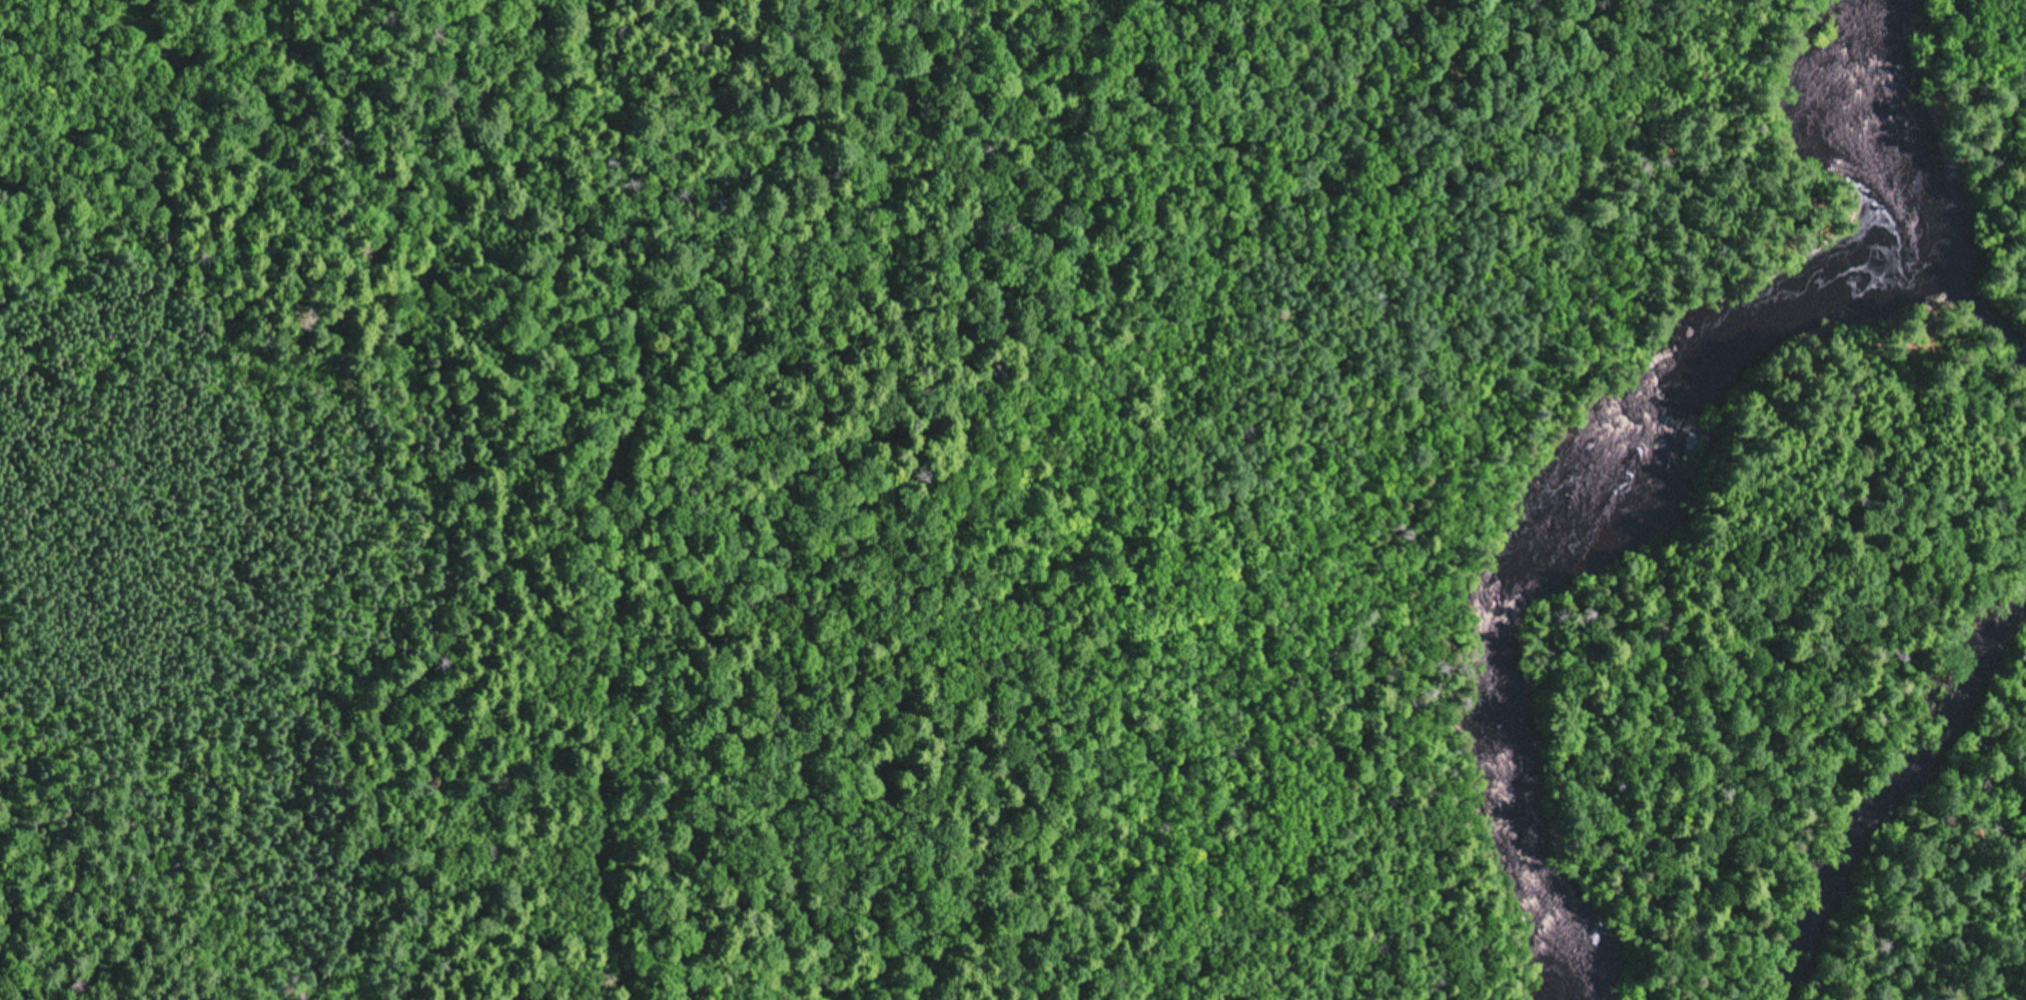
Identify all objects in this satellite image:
river: (1631, 440)

